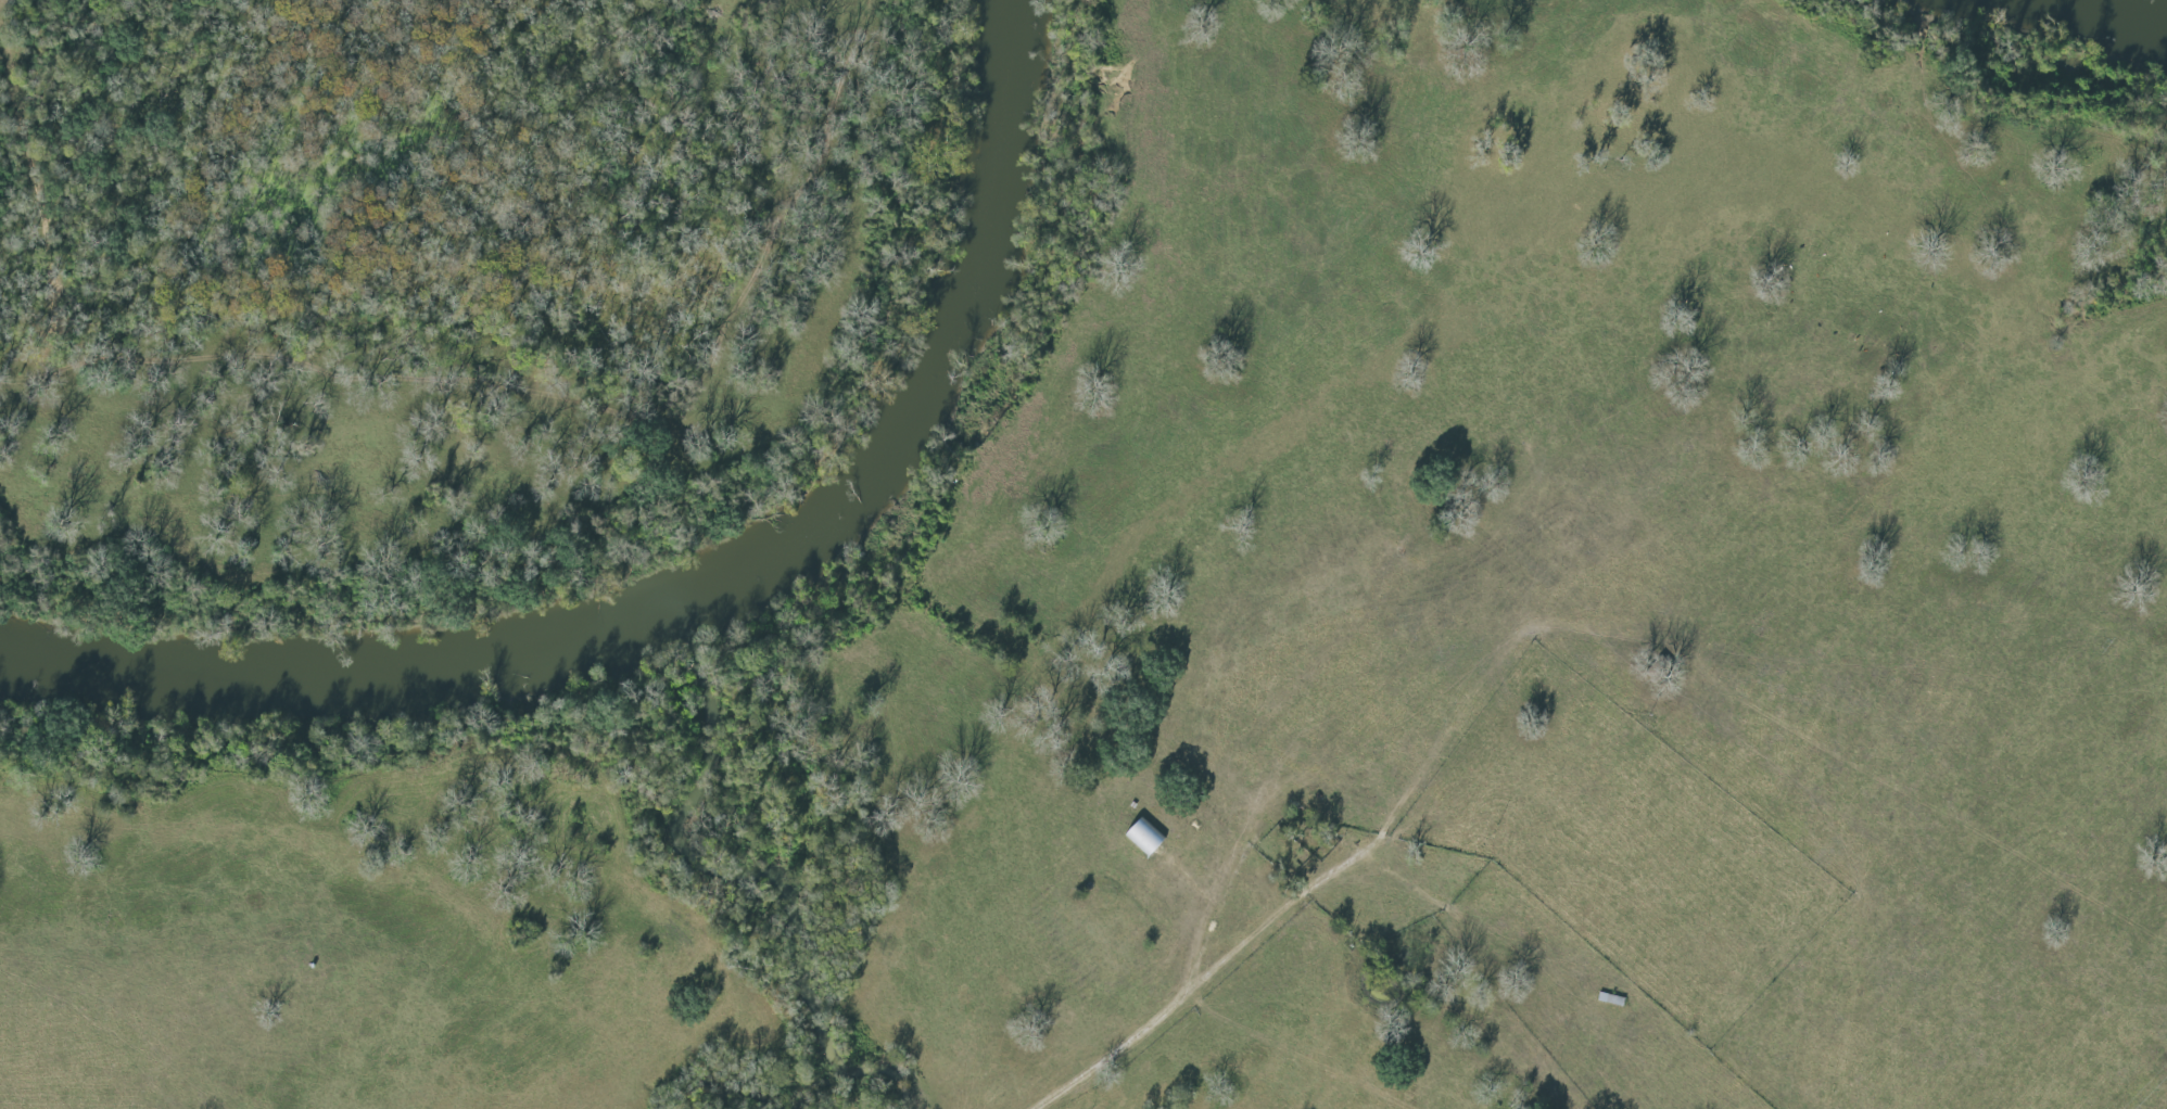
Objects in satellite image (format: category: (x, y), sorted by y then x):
building: (1143, 834)
road: (1222, 927)
road: (1250, 949)

